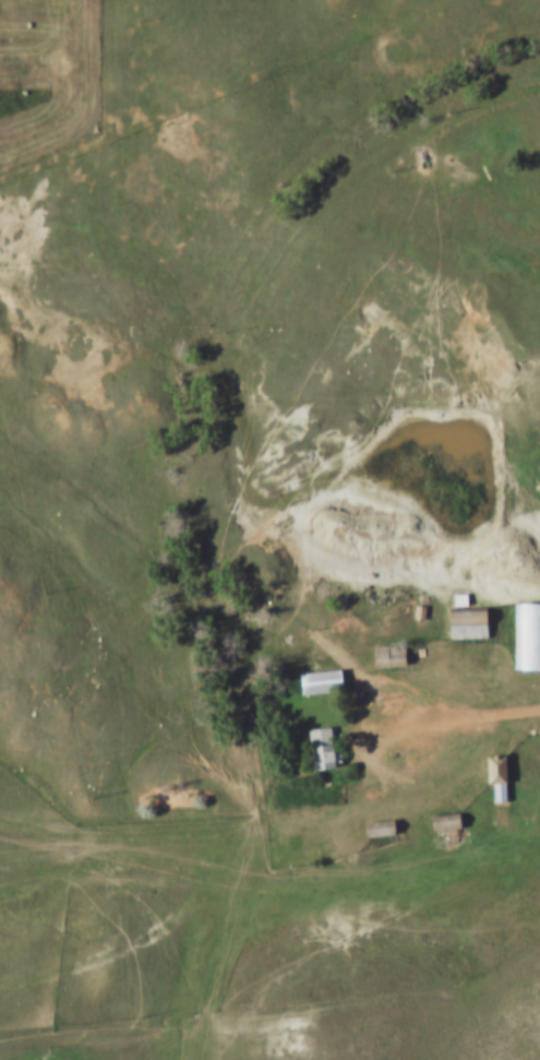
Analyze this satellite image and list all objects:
building: (468, 623)
building: (526, 638)
building: (389, 656)
building: (321, 683)
road: (485, 724)
building: (322, 750)
building: (497, 777)
building: (445, 823)
building: (380, 829)
road: (228, 833)

